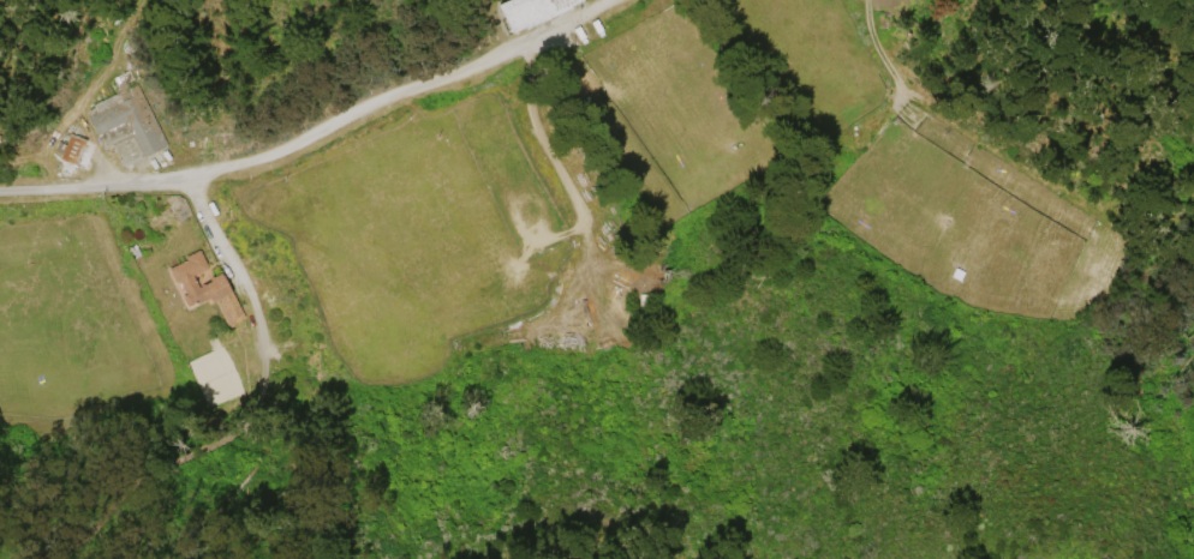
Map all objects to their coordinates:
building: (533, 13)
road: (405, 92)
building: (126, 119)
road: (536, 136)
building: (7, 142)
building: (73, 151)
crop: (918, 173)
road: (92, 186)
road: (217, 241)
crop: (461, 242)
building: (133, 251)
building: (184, 281)
crop: (62, 320)
building: (227, 337)
building: (233, 350)
building: (336, 353)

